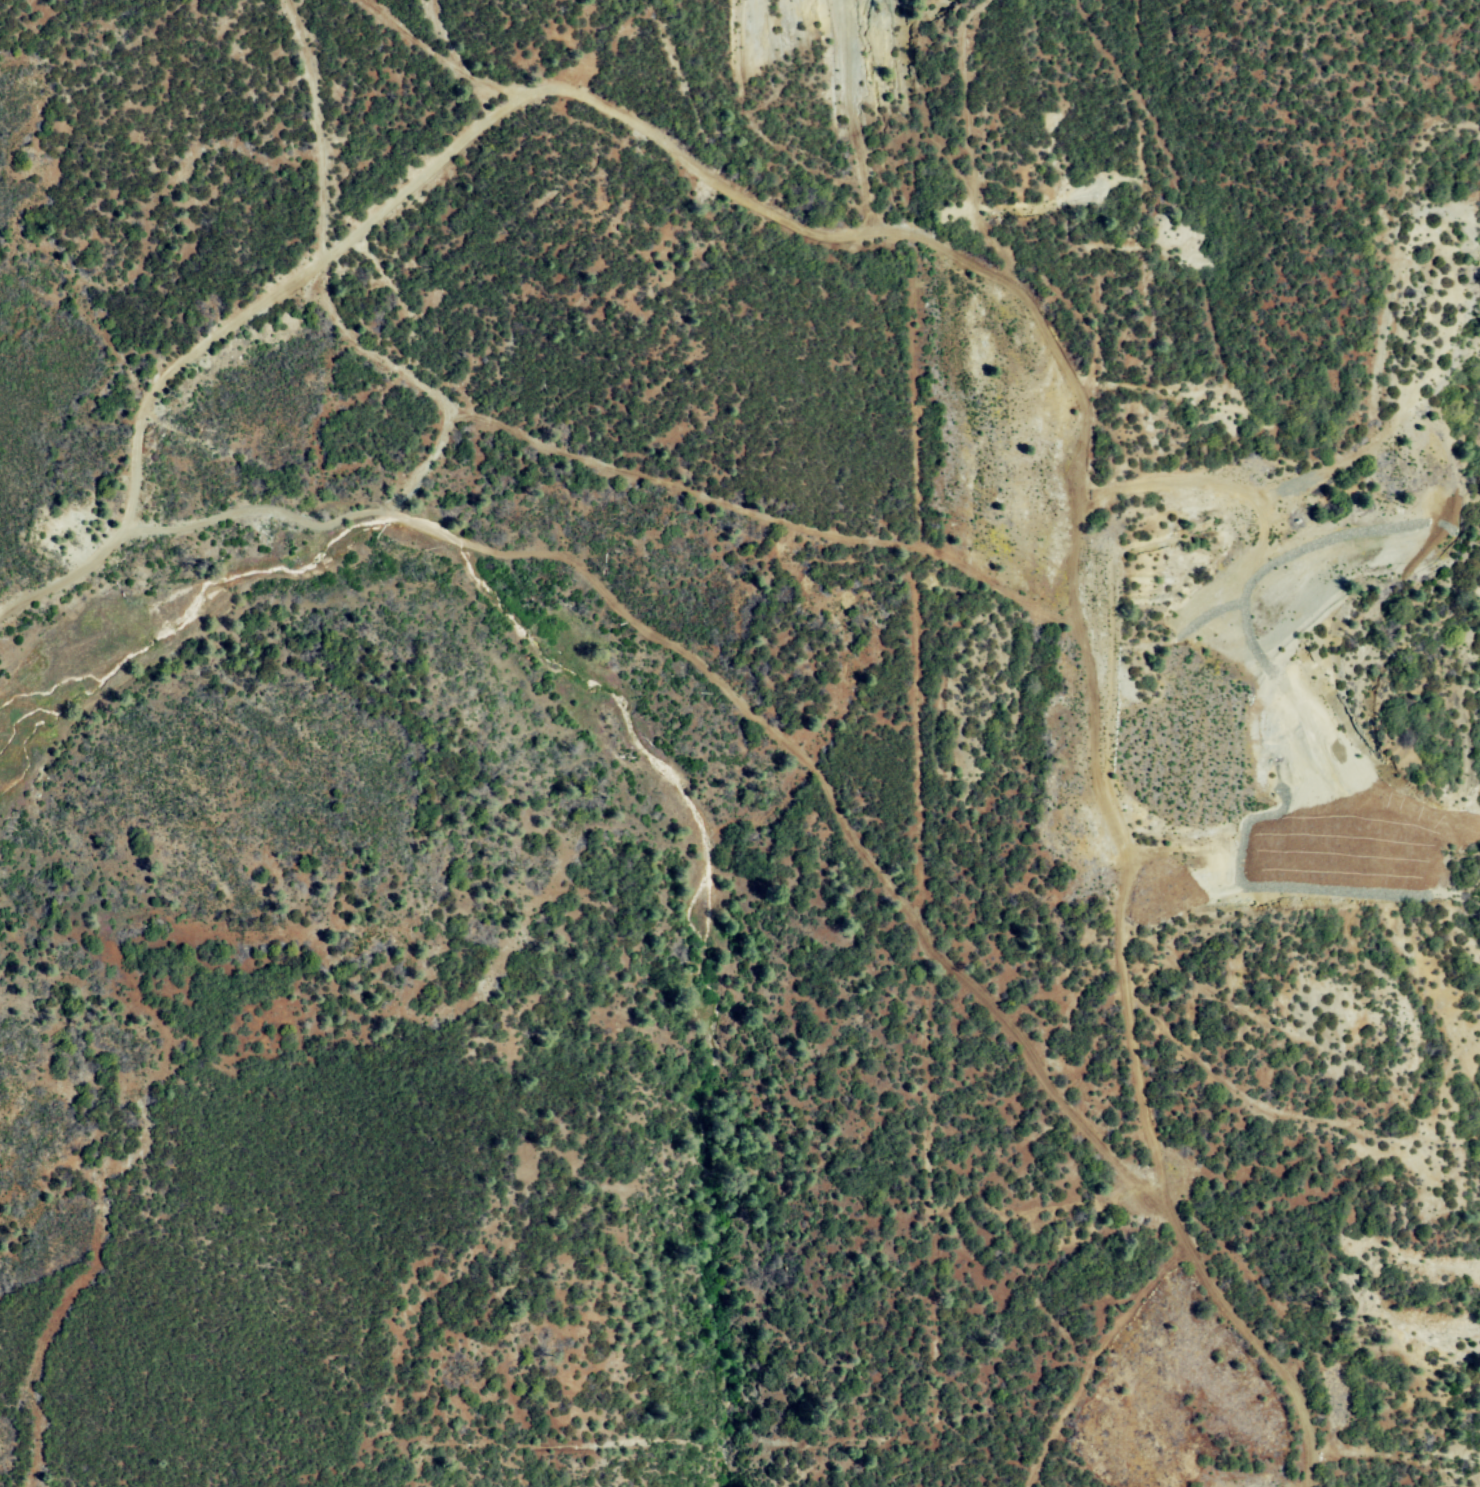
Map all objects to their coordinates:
road: (1263, 424)
road: (687, 657)
road: (1133, 923)

